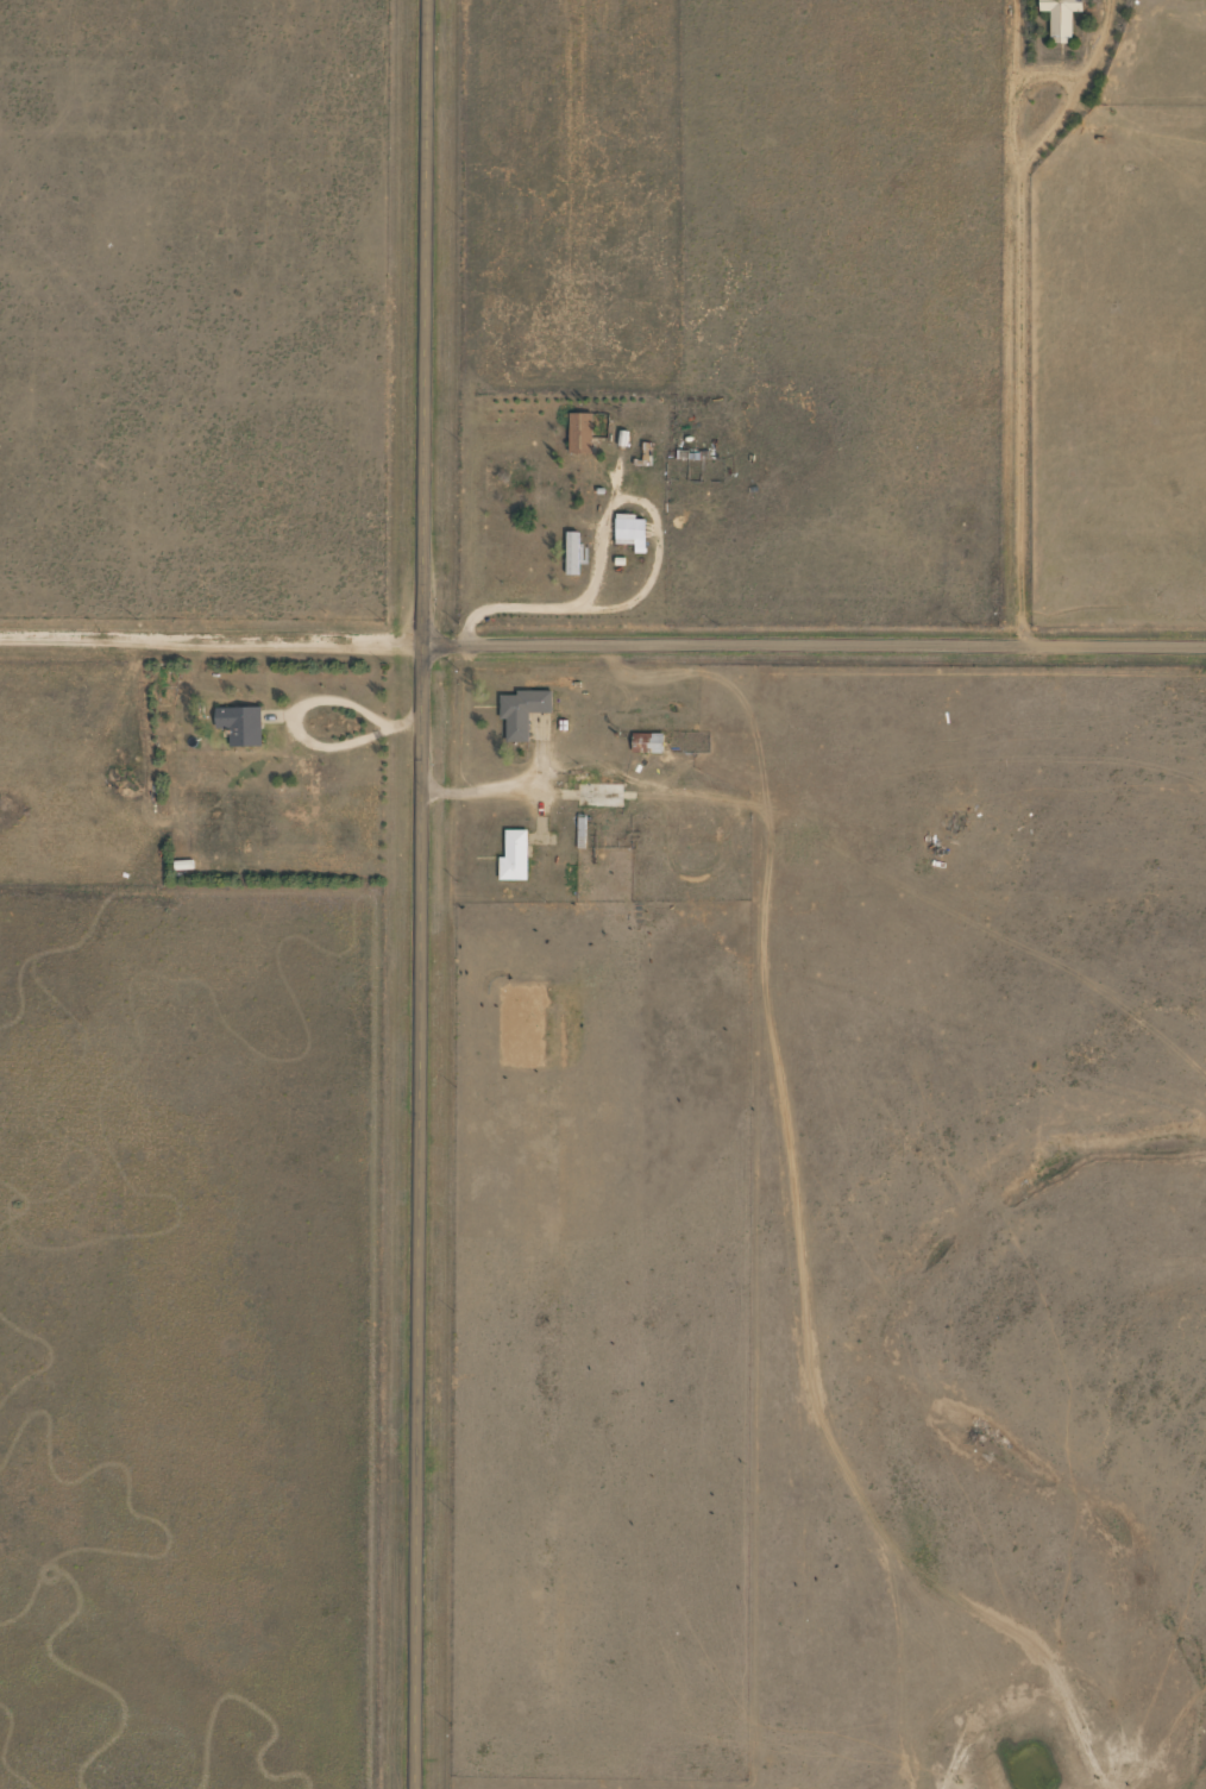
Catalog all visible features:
building: (1061, 18)
building: (580, 433)
building: (632, 531)
building: (572, 553)
road: (602, 639)
building: (522, 713)
building: (240, 724)
building: (601, 801)
building: (515, 856)
road: (419, 893)

